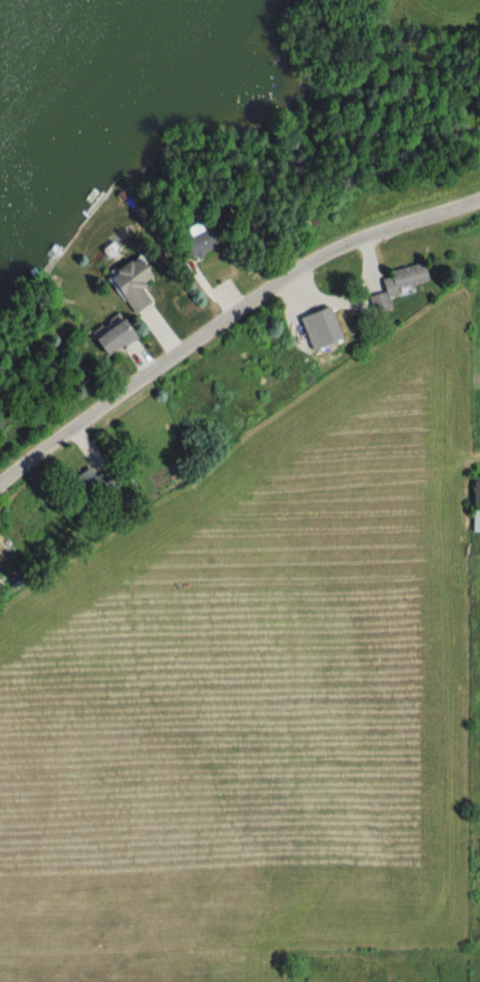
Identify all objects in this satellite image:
building: (195, 242)
building: (125, 283)
building: (393, 286)
road: (226, 319)
building: (106, 337)
building: (88, 486)
building: (475, 505)

